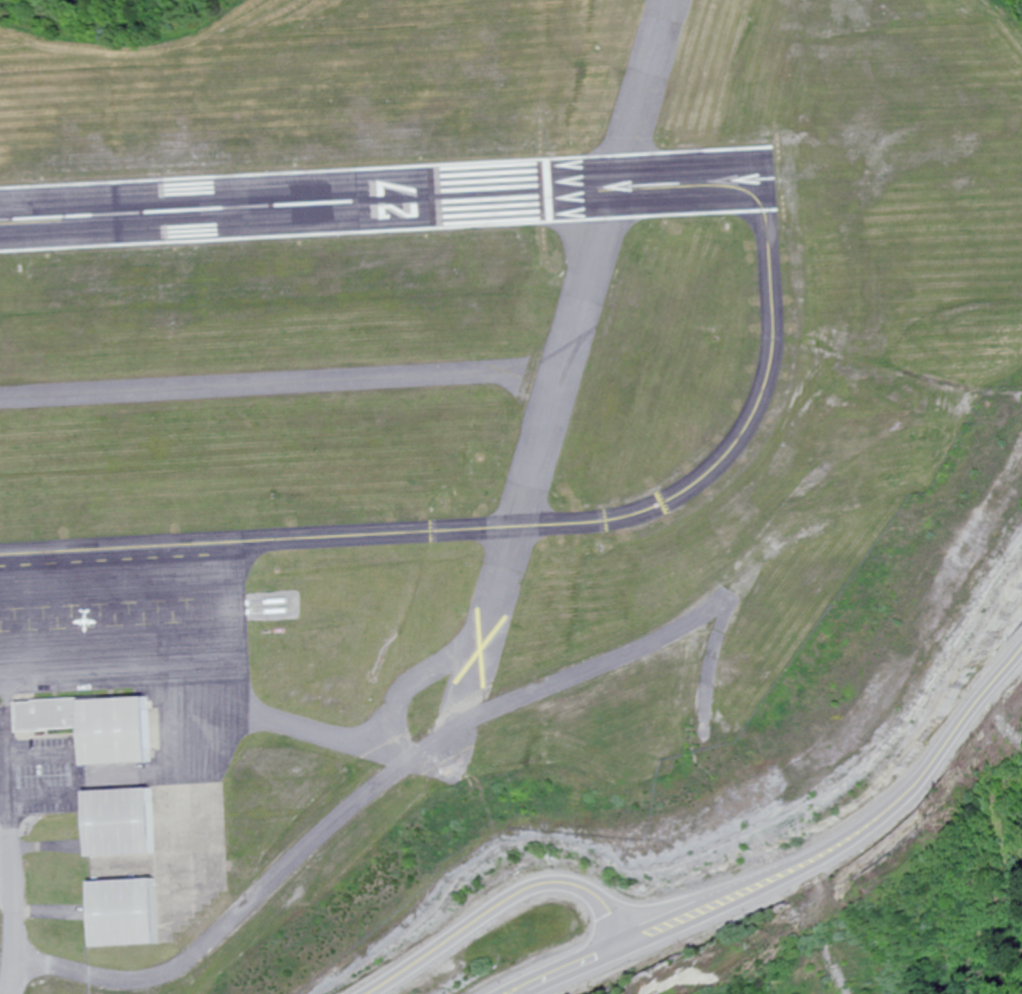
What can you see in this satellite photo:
airport runway: (388, 194)
airport taxiway: (635, 512)
airport apron: (134, 626)
building: (51, 714)
airport hangar: (120, 731)
building: (120, 731)
airport hangar: (122, 816)
building: (122, 816)
road: (840, 825)
road: (5, 835)
road: (484, 906)
airport hangar: (126, 909)
building: (126, 909)
road: (545, 968)

